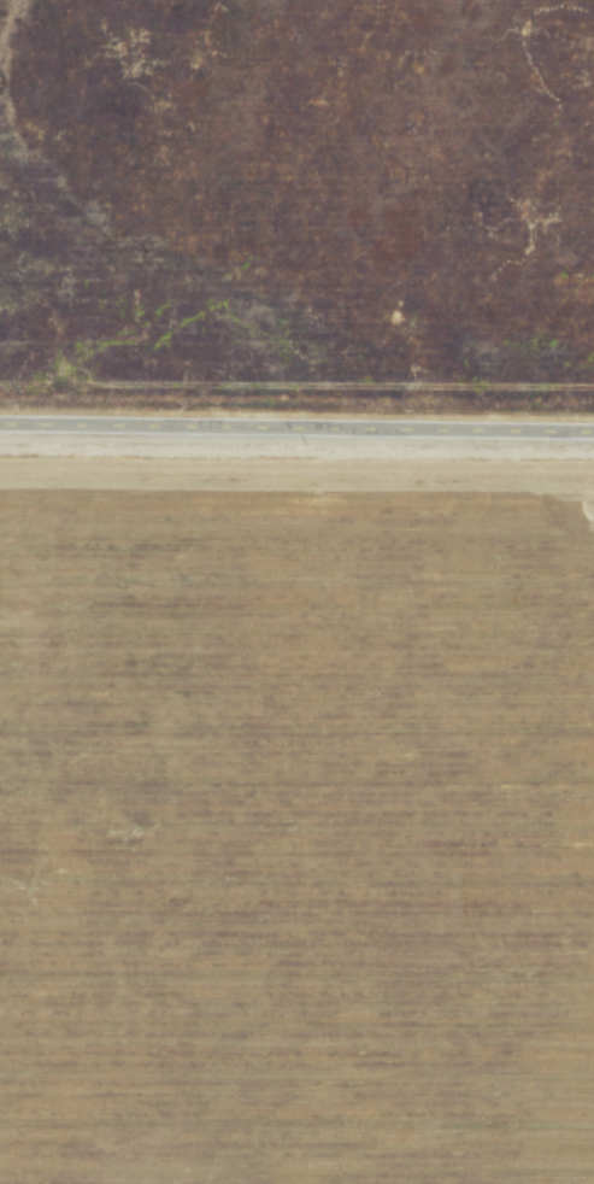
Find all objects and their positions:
road: (296, 432)

